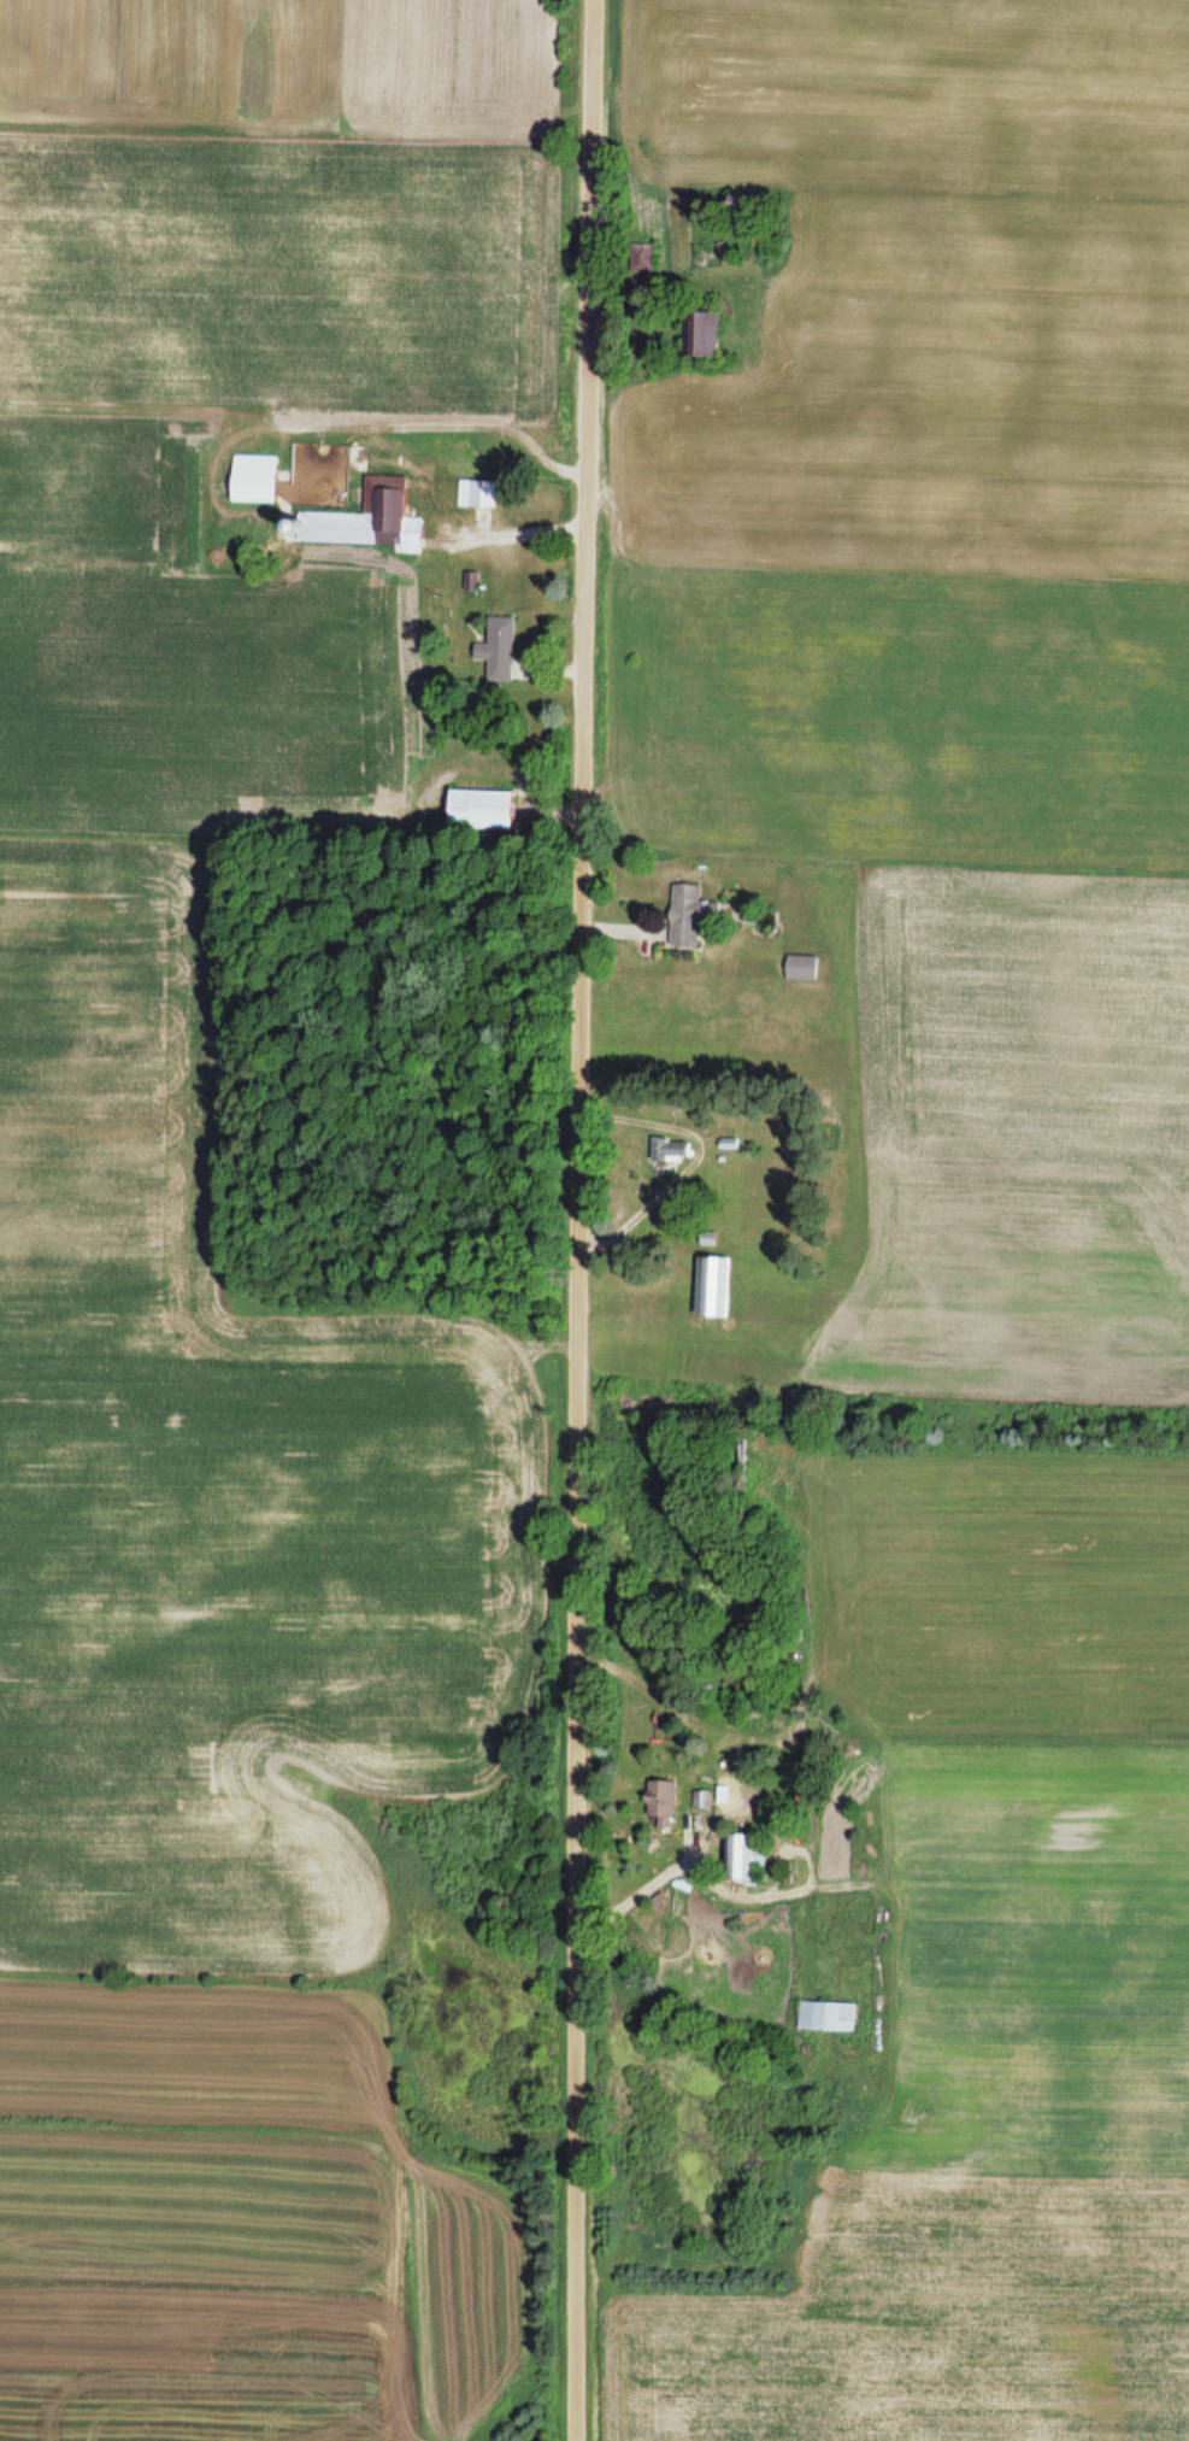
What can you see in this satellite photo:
building: (699, 335)
building: (252, 479)
building: (475, 494)
building: (366, 520)
building: (495, 649)
building: (479, 808)
building: (688, 913)
building: (799, 967)
building: (670, 1149)
road: (578, 1220)
building: (712, 1286)
building: (753, 1414)
building: (660, 1802)
building: (744, 1855)
building: (826, 2014)

